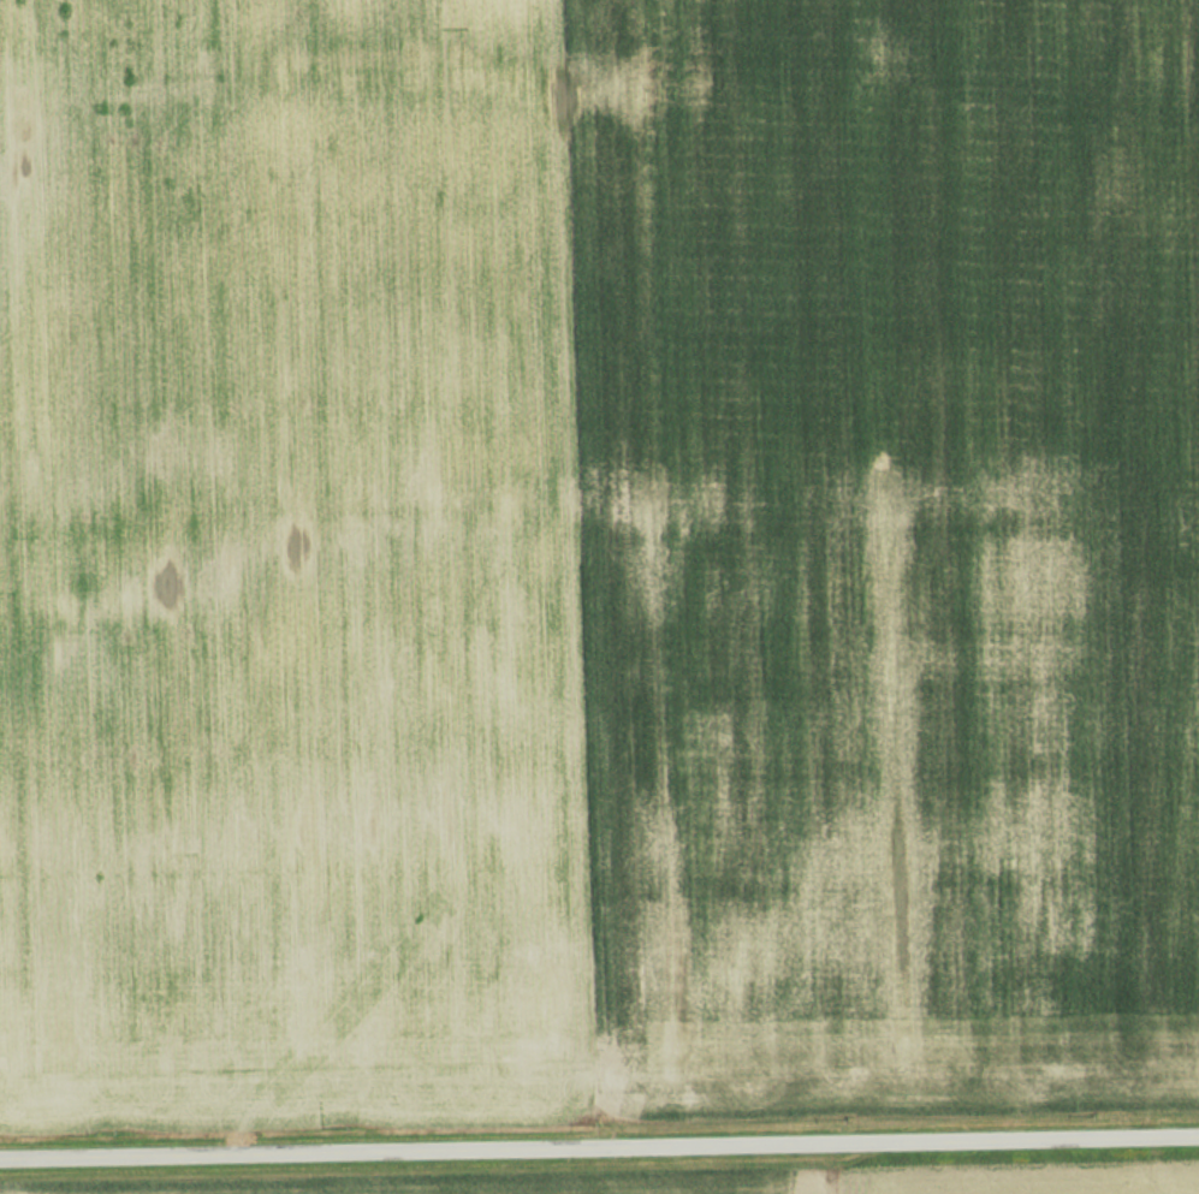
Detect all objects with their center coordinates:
road: (599, 1145)

